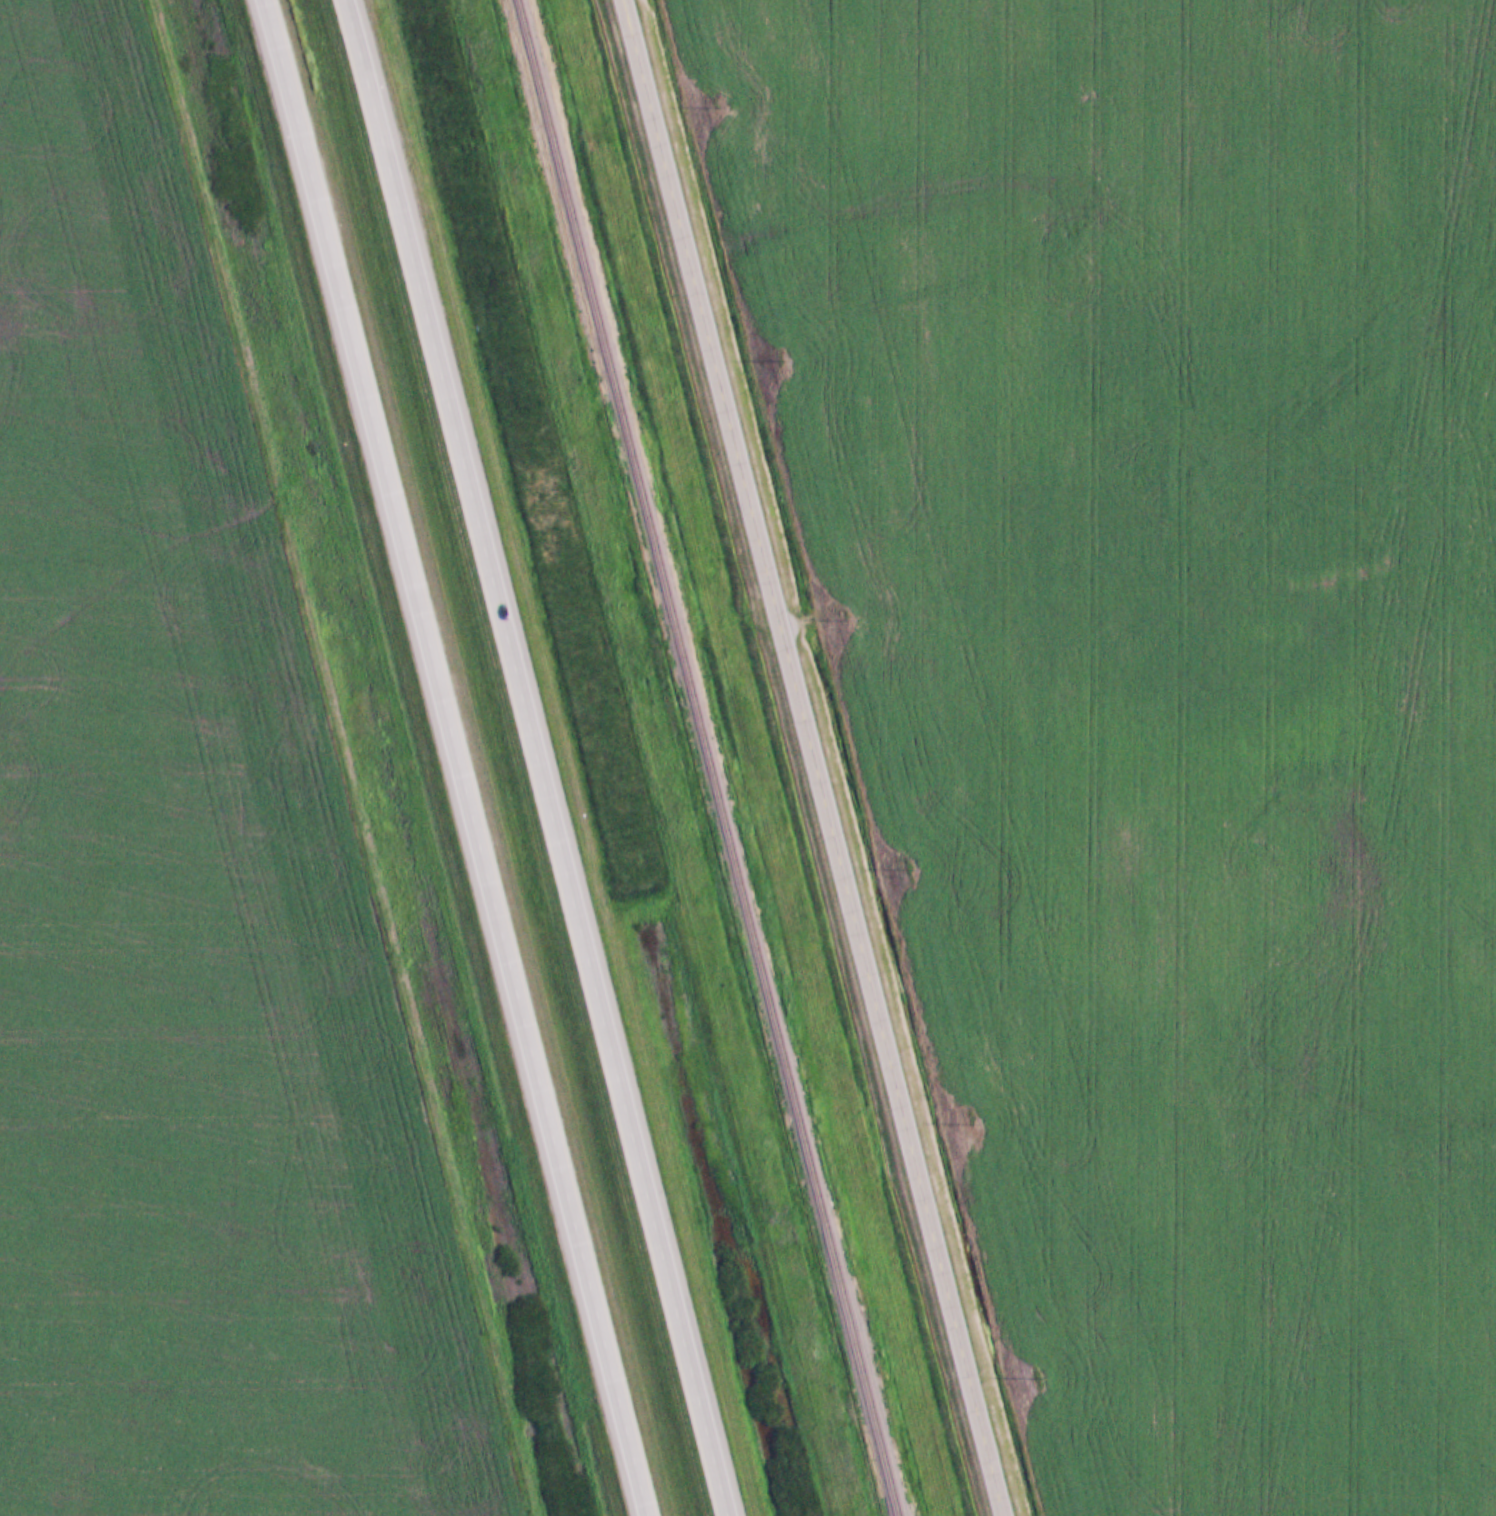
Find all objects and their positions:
road: (460, 755)
road: (549, 755)
railway: (701, 758)
road: (816, 758)

